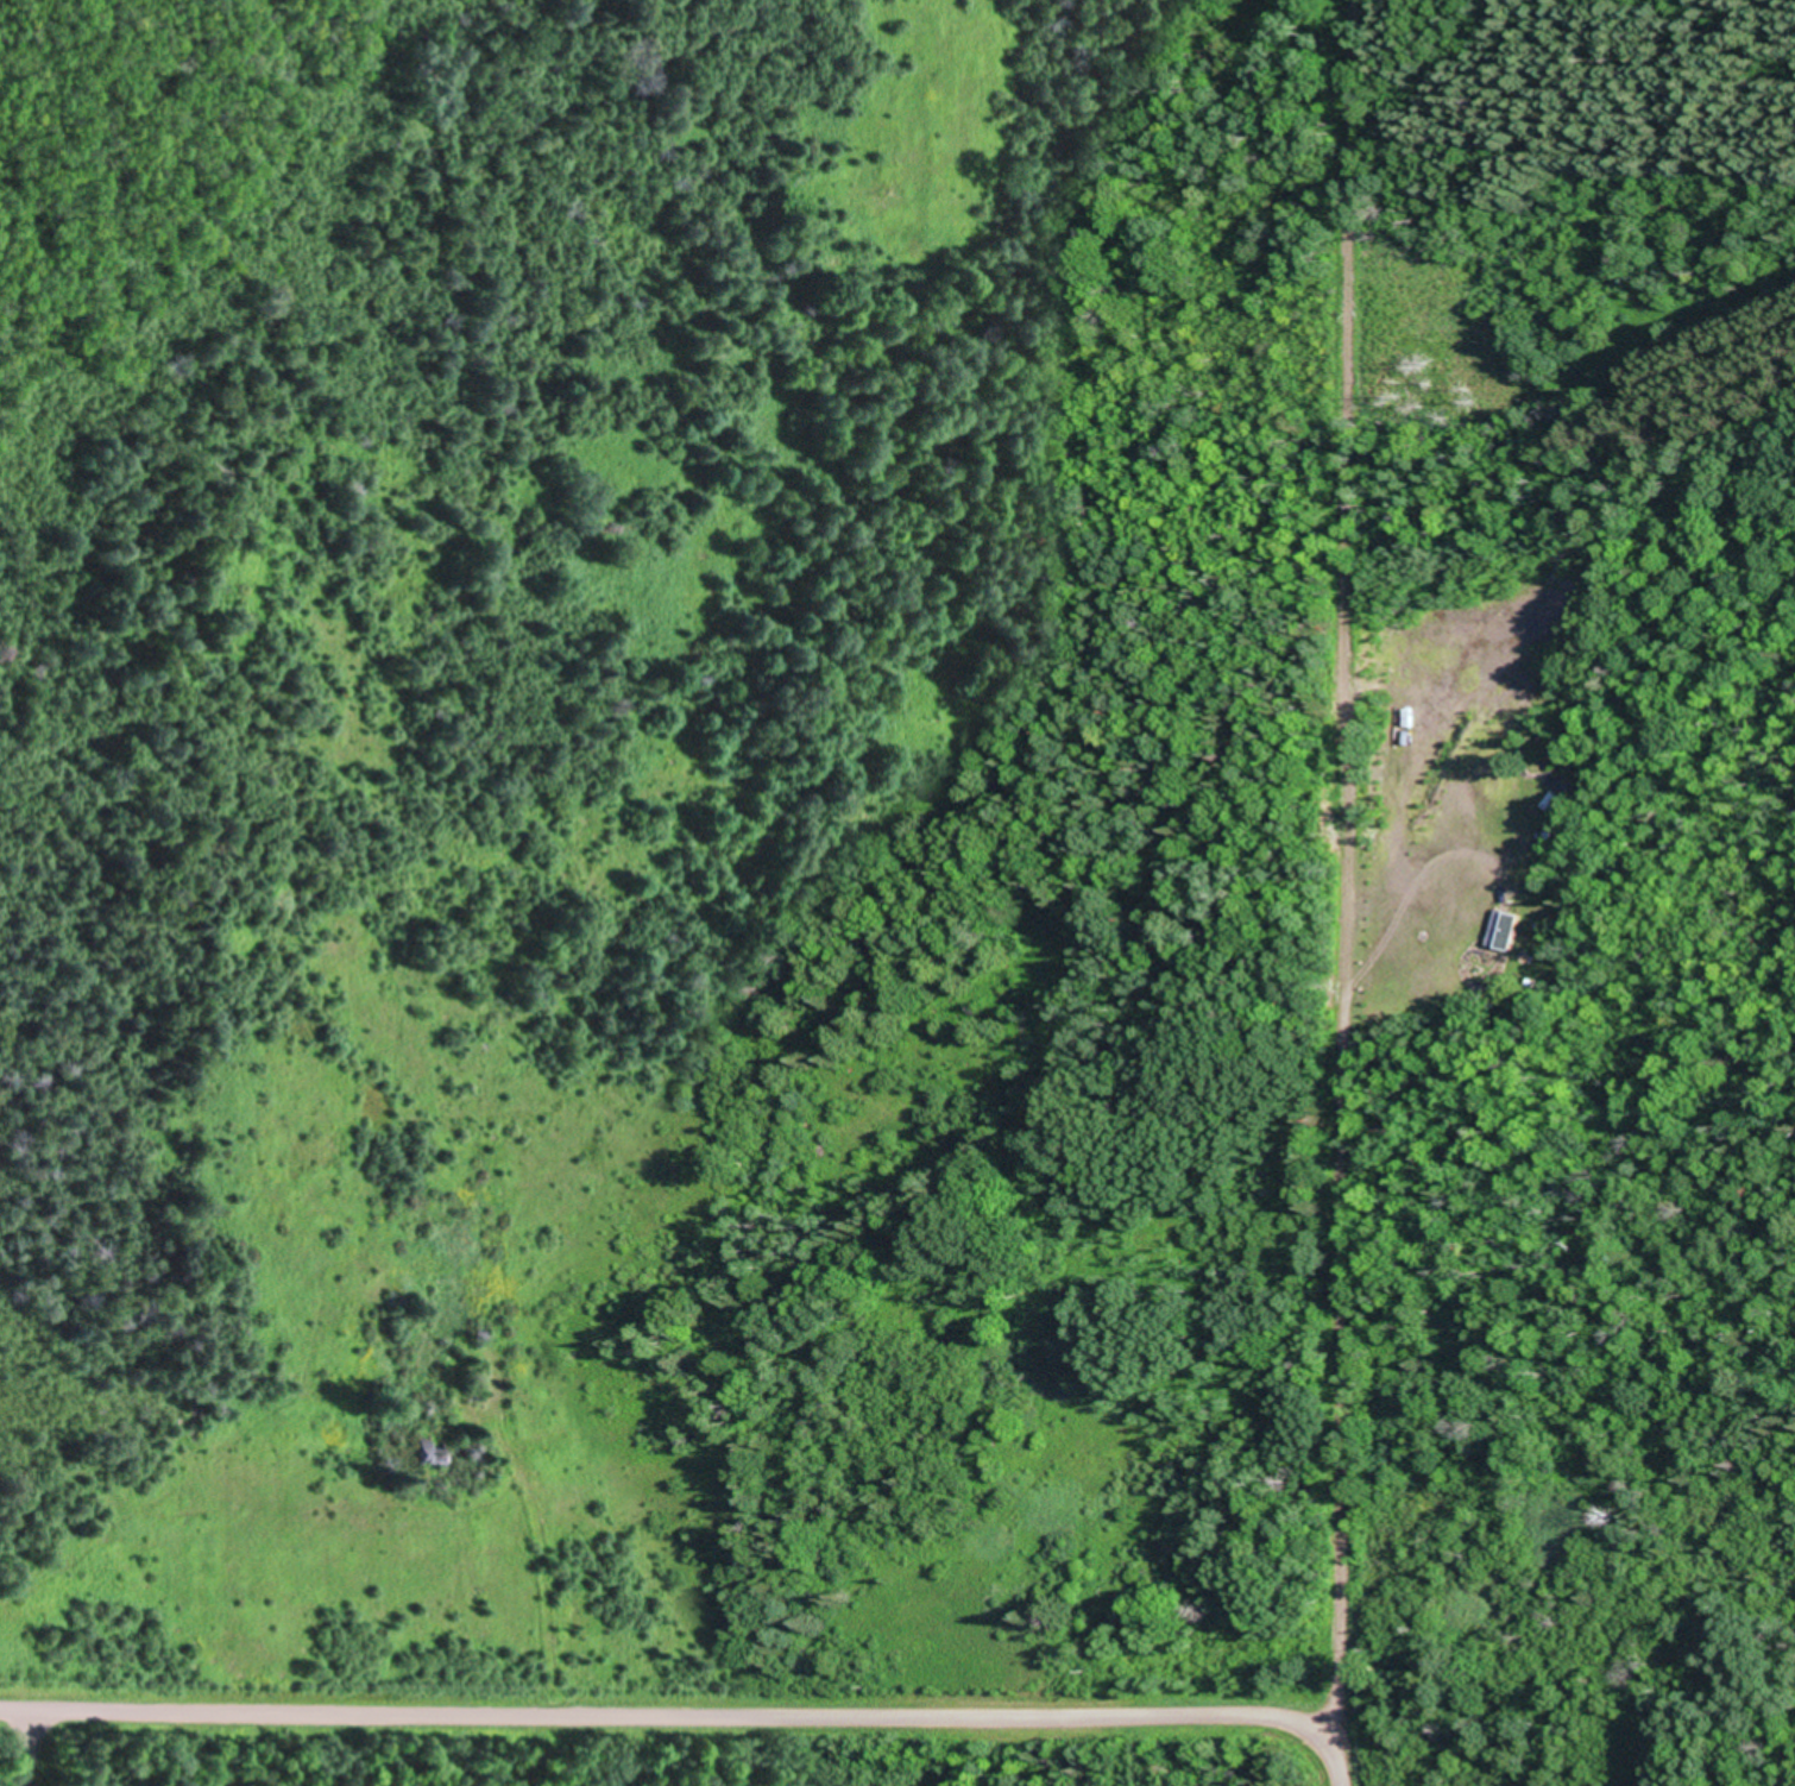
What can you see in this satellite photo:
road: (1335, 849)
building: (1501, 925)
building: (436, 1451)
road: (659, 1692)
road: (1346, 1740)

